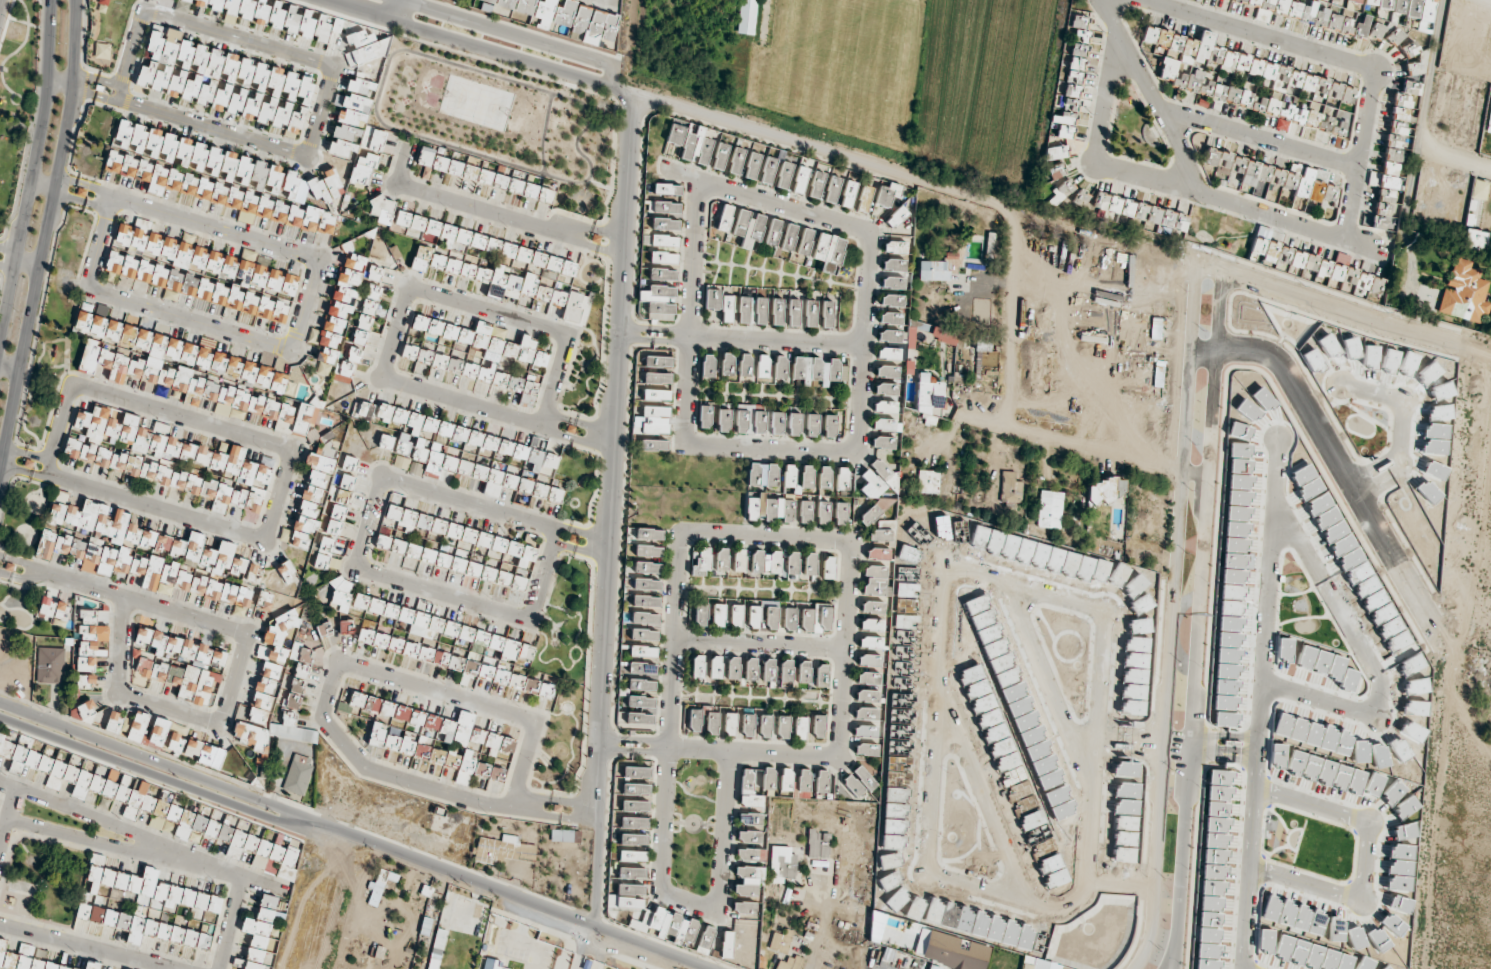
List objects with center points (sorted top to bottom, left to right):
road: (1430, 65)
park: (8, 165)
road: (1356, 316)
park: (55, 321)
crop: (1459, 433)
park: (23, 516)
park: (32, 649)
crop: (1458, 853)
park: (43, 882)

